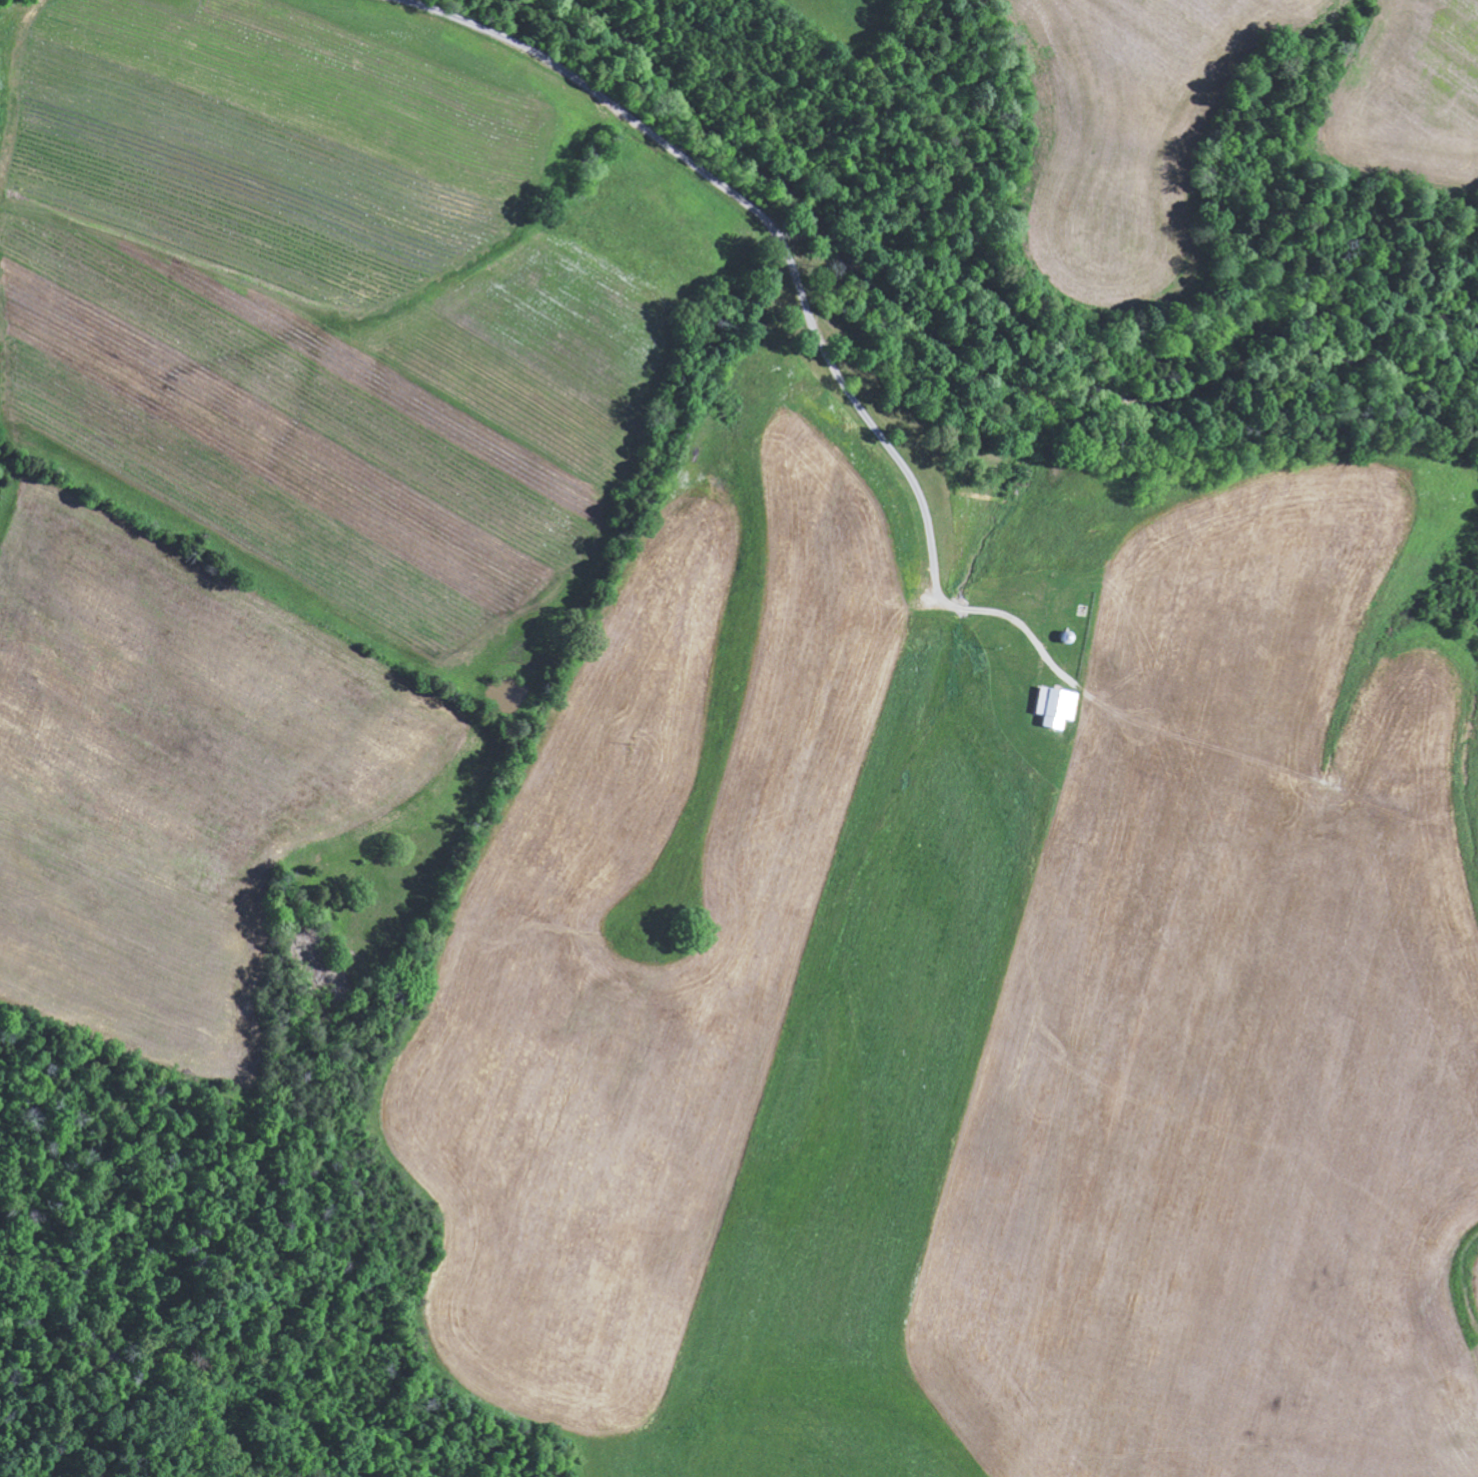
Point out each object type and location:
road: (784, 246)
building: (1061, 706)

